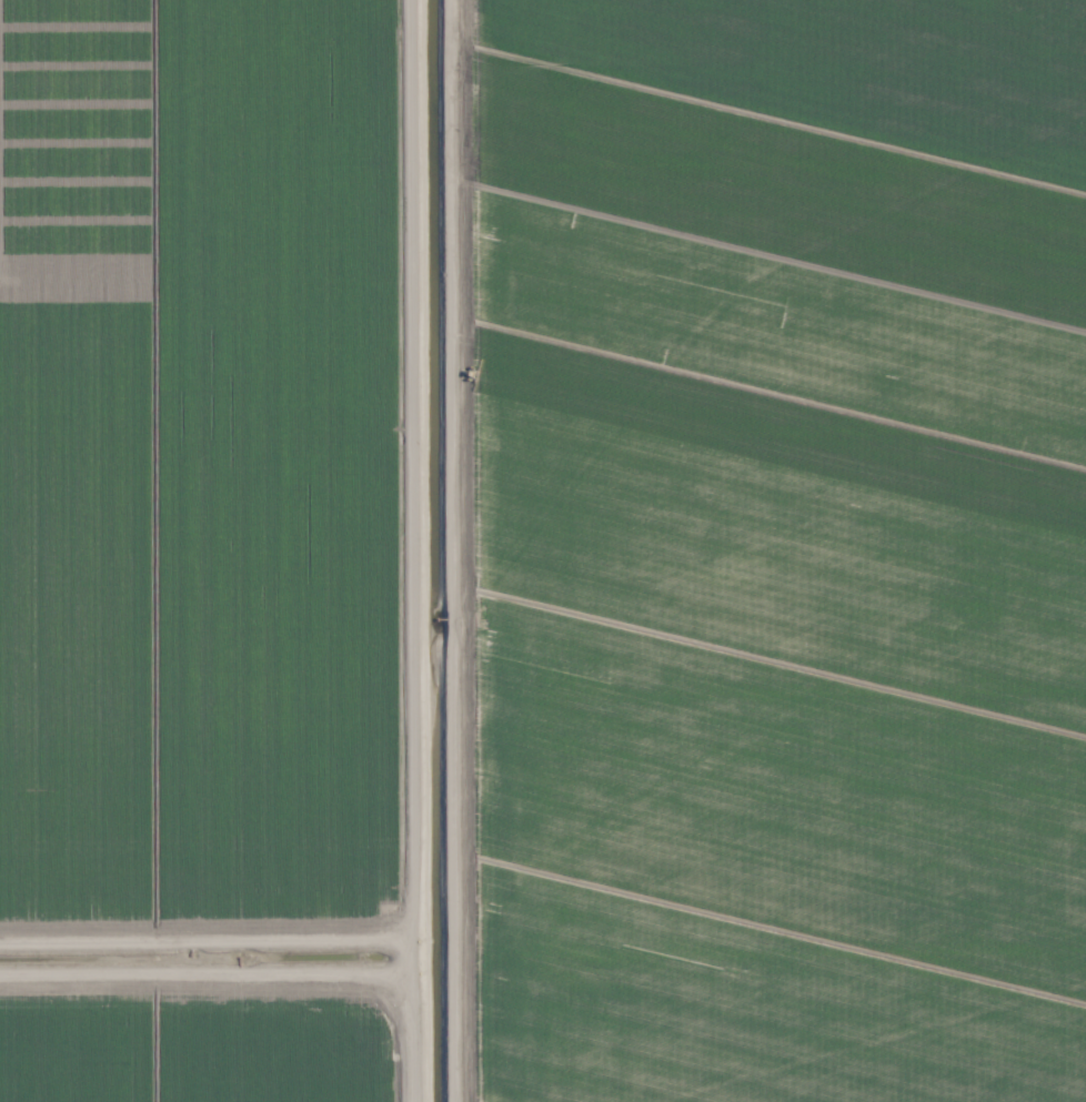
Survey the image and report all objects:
road: (414, 550)
crop: (543, 550)

